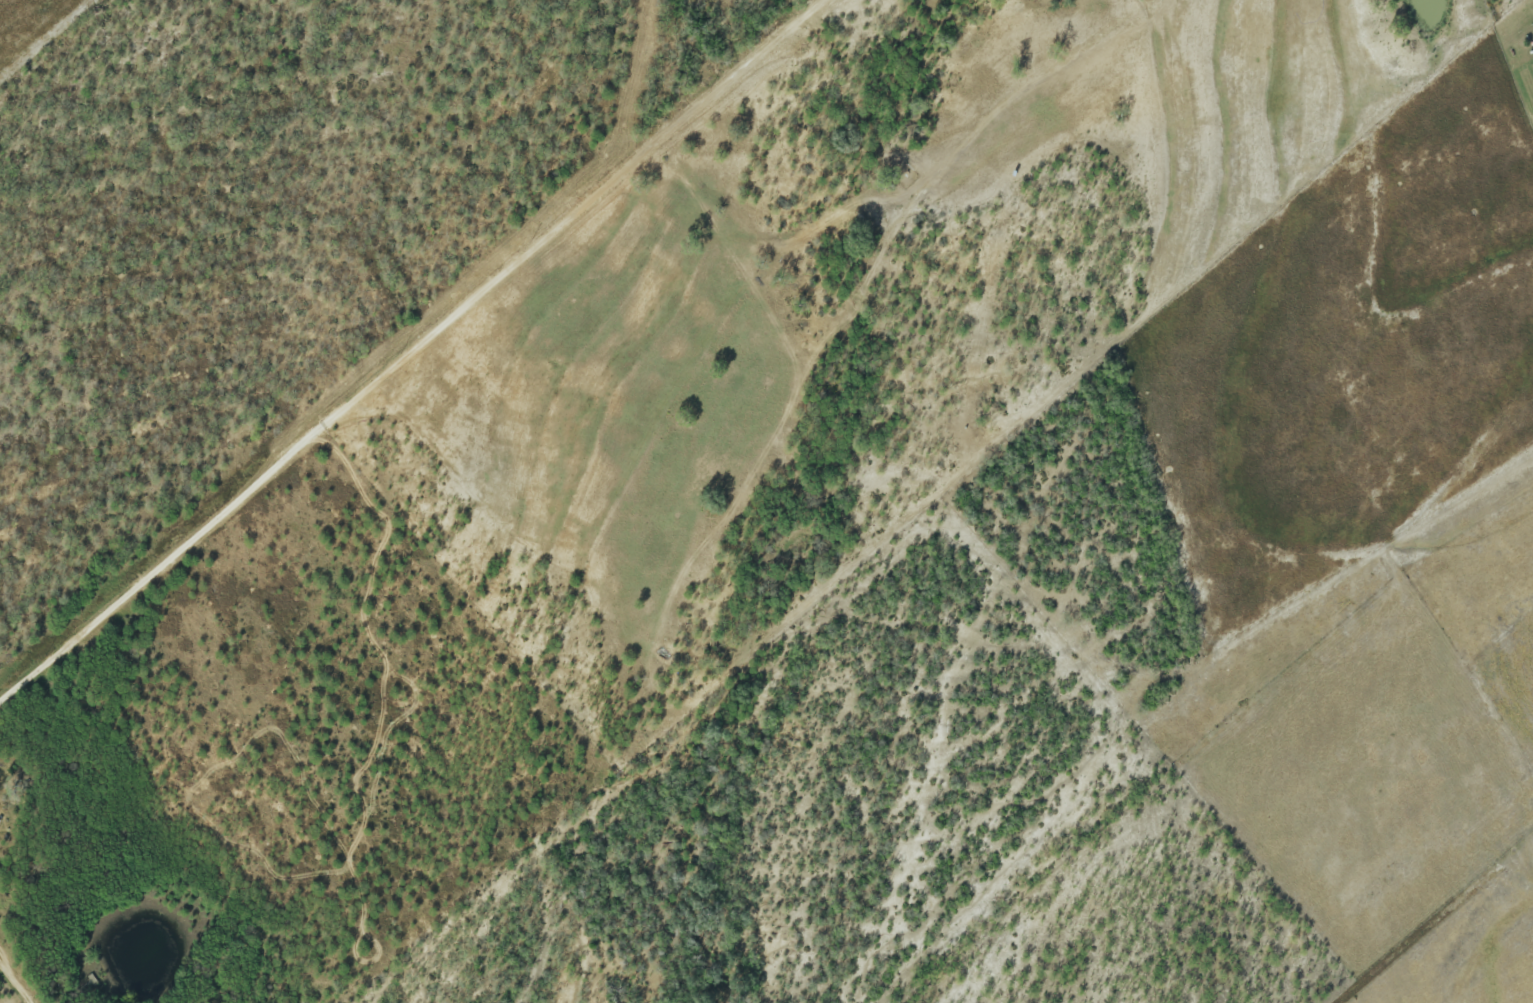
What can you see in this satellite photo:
road: (412, 352)

